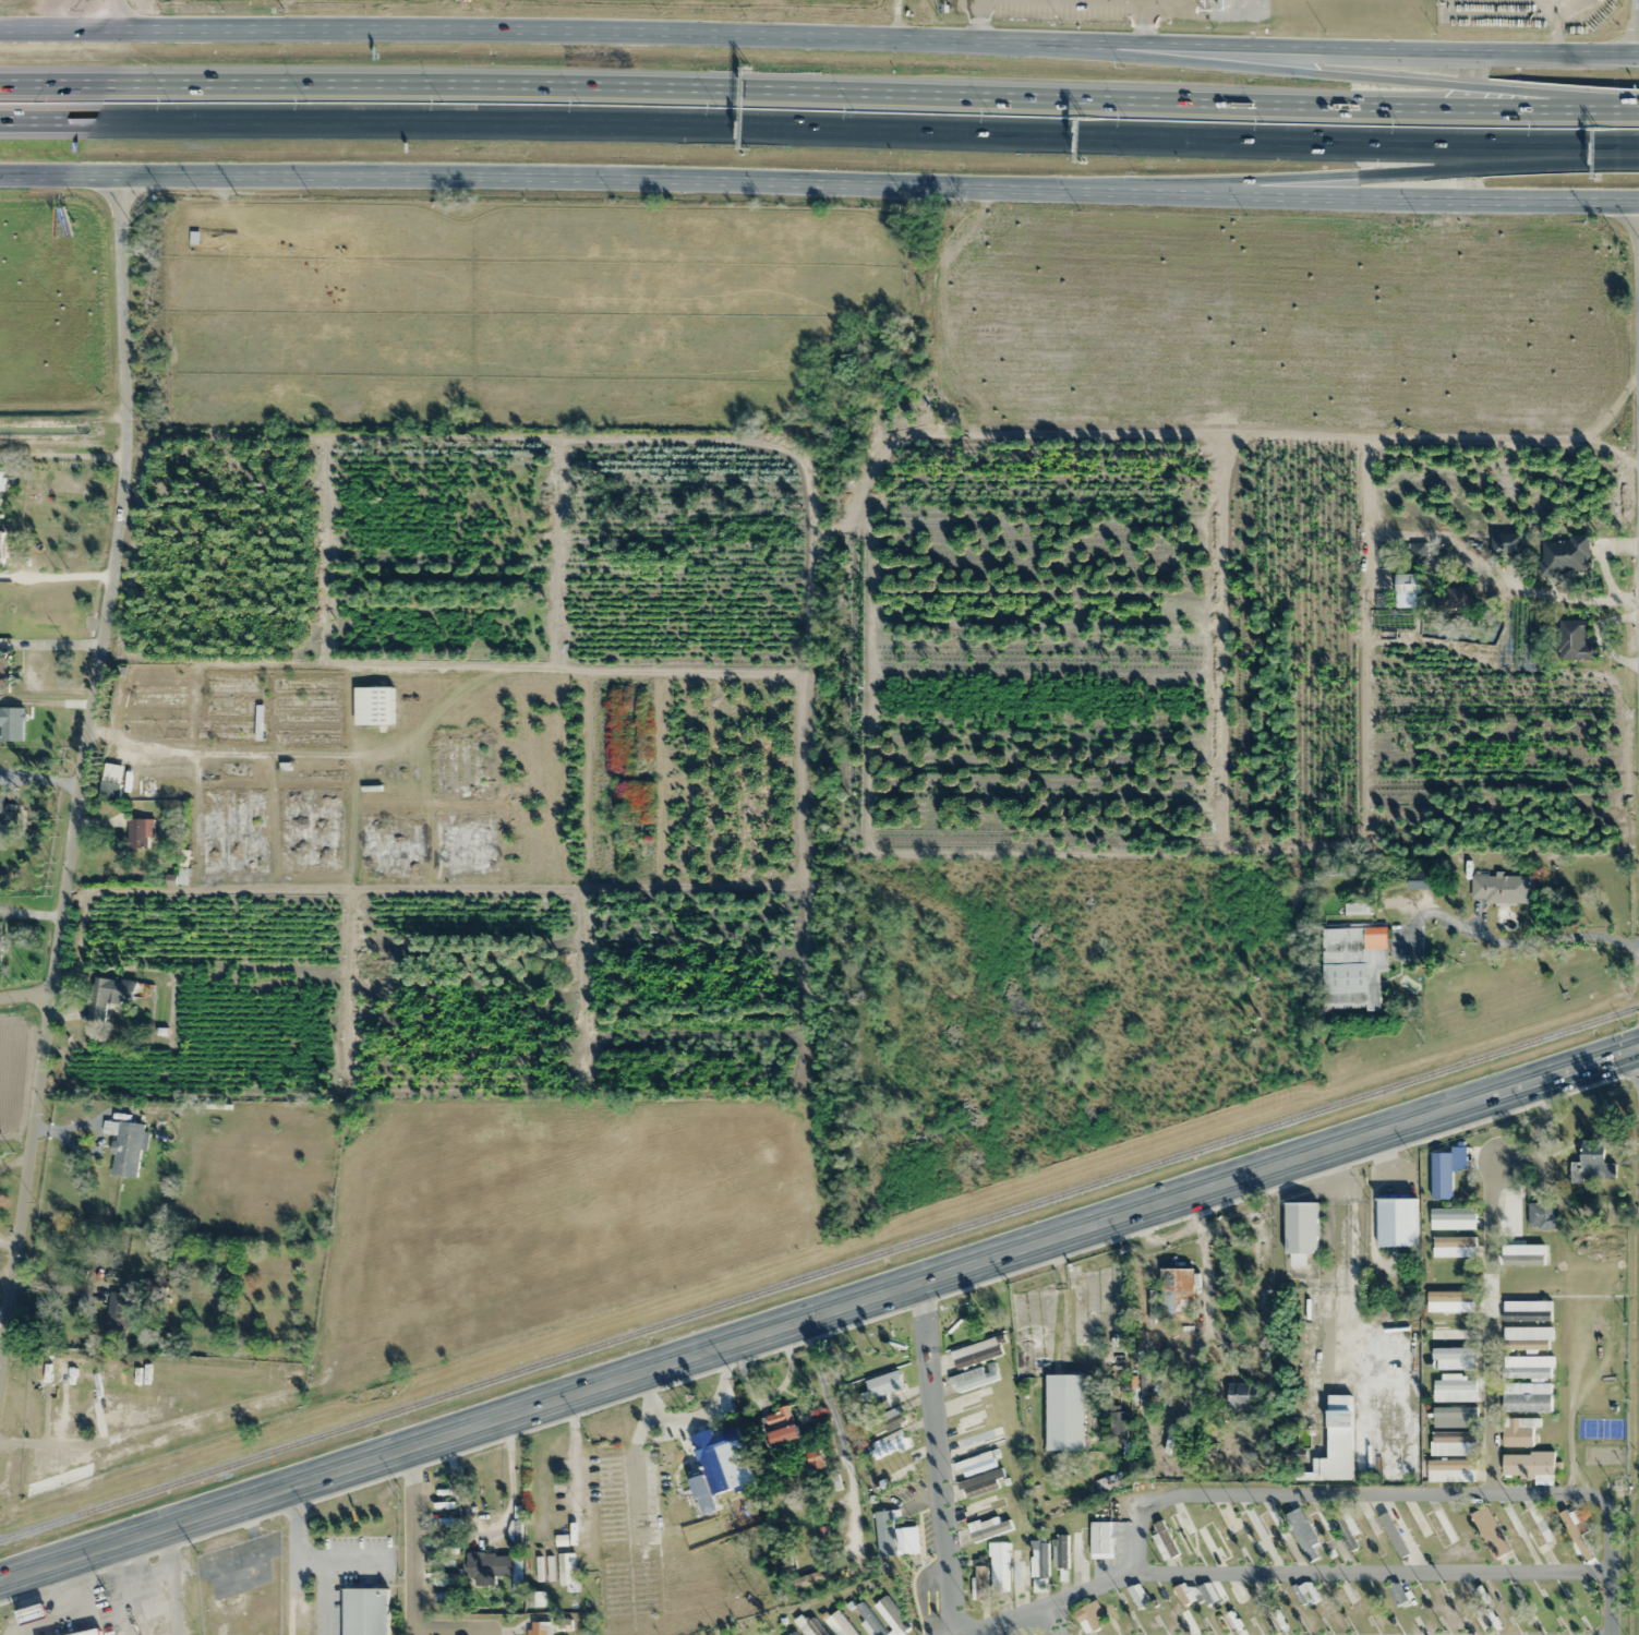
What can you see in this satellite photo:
road: (1637, 8)
road: (112, 14)
road: (894, 20)
road: (819, 38)
road: (1294, 77)
road: (773, 87)
street lamp: (32, 100)
street lamp: (304, 100)
street lamp: (168, 101)
street lamp: (442, 101)
street lamp: (579, 103)
street lamp: (715, 106)
street lamp: (852, 110)
road: (1592, 111)
street lamp: (989, 113)
street lamp: (1125, 118)
street lamp: (1261, 122)
street lamp: (1398, 124)
street lamp: (1534, 127)
road: (808, 130)
road: (1627, 152)
road: (1350, 171)
road: (819, 182)
road: (1638, 266)
building: (1, 478)
building: (1505, 541)
building: (0, 545)
building: (1414, 553)
building: (1565, 556)
building: (1407, 590)
building: (1455, 598)
building: (1574, 641)
building: (3, 672)
building: (230, 685)
building: (373, 706)
building: (156, 707)
building: (229, 708)
building: (304, 719)
building: (228, 731)
road: (82, 756)
building: (463, 768)
building: (236, 770)
building: (309, 777)
building: (111, 781)
building: (161, 789)
building: (7, 817)
building: (310, 830)
building: (233, 831)
building: (138, 832)
building: (390, 847)
building: (465, 847)
building: (1501, 888)
building: (0, 941)
building: (1352, 966)
road: (23, 995)
building: (107, 996)
building: (124, 1147)
building: (1592, 1163)
building: (1509, 1212)
building: (1541, 1215)
building: (1453, 1218)
building: (1396, 1222)
building: (1301, 1227)
building: (1453, 1247)
building: (1523, 1253)
railway: (820, 1273)
building: (1176, 1291)
building: (1450, 1301)
building: (118, 1310)
building: (1526, 1310)
road: (819, 1311)
building: (1451, 1329)
road: (1493, 1333)
building: (1527, 1337)
building: (977, 1351)
building: (1454, 1358)
building: (1528, 1366)
building: (974, 1378)
building: (1144, 1381)
building: (883, 1387)
building: (1455, 1387)
building: (1242, 1395)
building: (1065, 1411)
building: (1455, 1416)
building: (778, 1417)
building: (1118, 1419)
building: (972, 1421)
building: (885, 1422)
building: (1519, 1431)
building: (784, 1434)
building: (980, 1441)
building: (1335, 1443)
building: (1454, 1443)
building: (889, 1444)
building: (720, 1453)
road: (930, 1457)
building: (811, 1459)
building: (976, 1464)
building: (1528, 1464)
building: (895, 1468)
building: (1451, 1470)
building: (1109, 1482)
building: (981, 1483)
road: (1230, 1499)
building: (689, 1503)
building: (1226, 1523)
building: (1321, 1525)
building: (1534, 1525)
building: (1250, 1526)
building: (1274, 1526)
building: (1439, 1526)
building: (987, 1528)
building: (1370, 1530)
building: (1301, 1531)
building: (1490, 1531)
building: (884, 1532)
building: (1396, 1532)
building: (1209, 1537)
building: (1100, 1539)
building: (906, 1540)
building: (1162, 1540)
building: (1061, 1551)
building: (1078, 1551)
building: (1039, 1559)
road: (1610, 1559)
building: (1022, 1561)
building: (999, 1564)
building: (489, 1565)
building: (566, 1572)
road: (1374, 1575)
road: (411, 1576)
building: (979, 1578)
building: (1239, 1590)
building: (1196, 1592)
building: (1305, 1592)
building: (1137, 1596)
building: (1398, 1596)
building: (150, 1607)
building: (364, 1611)
building: (892, 1615)
building: (1088, 1616)
building: (867, 1619)
road: (1057, 1619)
building: (1272, 1623)
building: (839, 1624)
building: (808, 1626)
building: (538, 1632)
building: (89, 1633)
building: (767, 1634)
building: (790, 1634)

